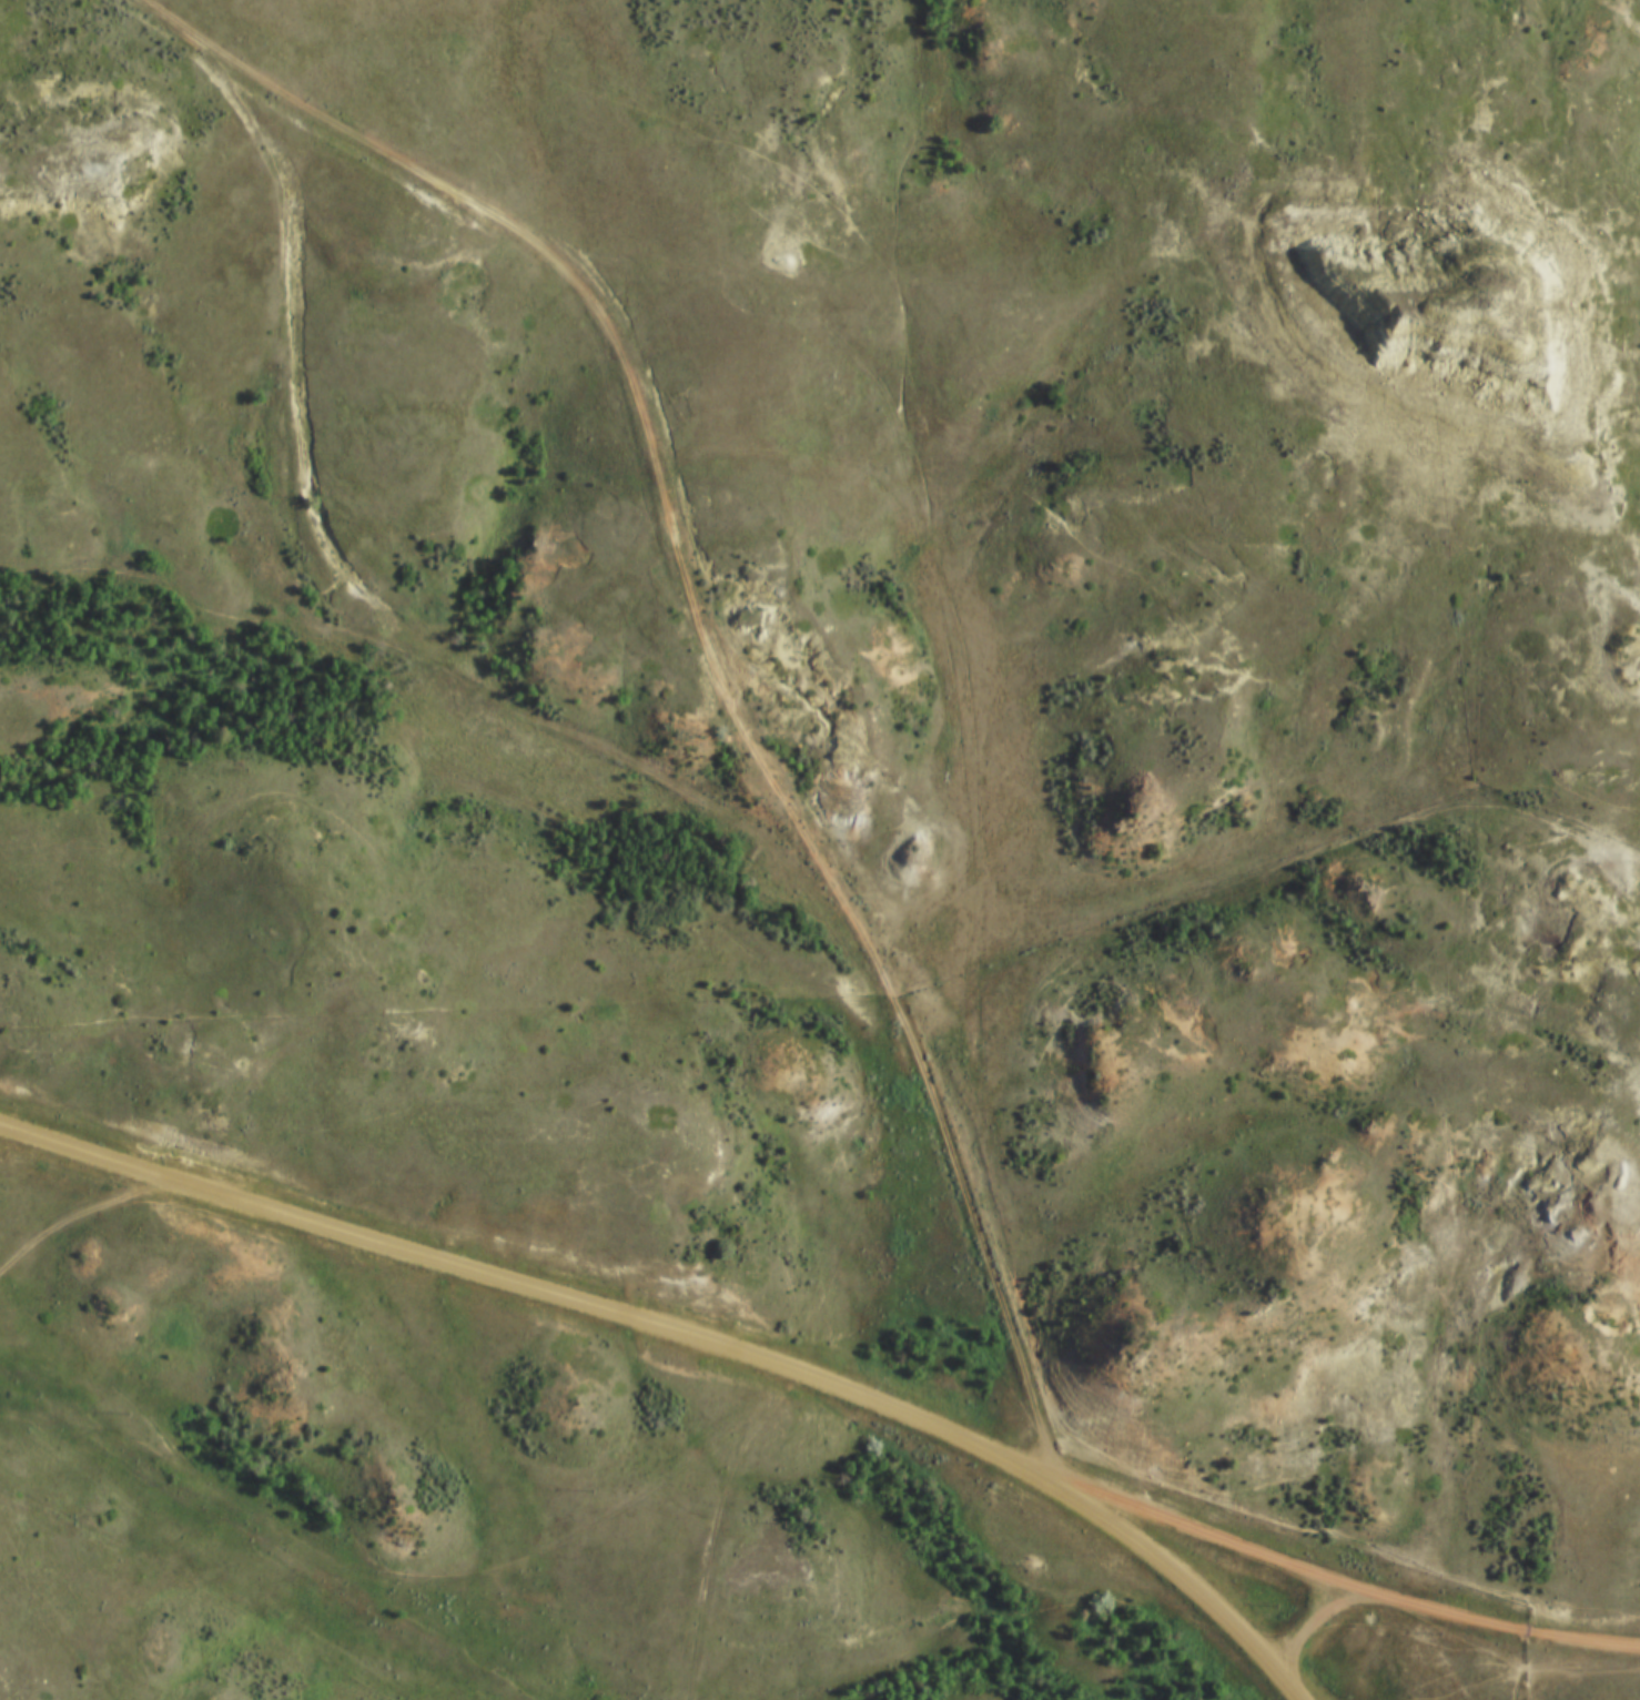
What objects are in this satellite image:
road: (710, 648)
road: (72, 1218)
road: (691, 1333)
road: (1342, 1581)
road: (1314, 1621)

